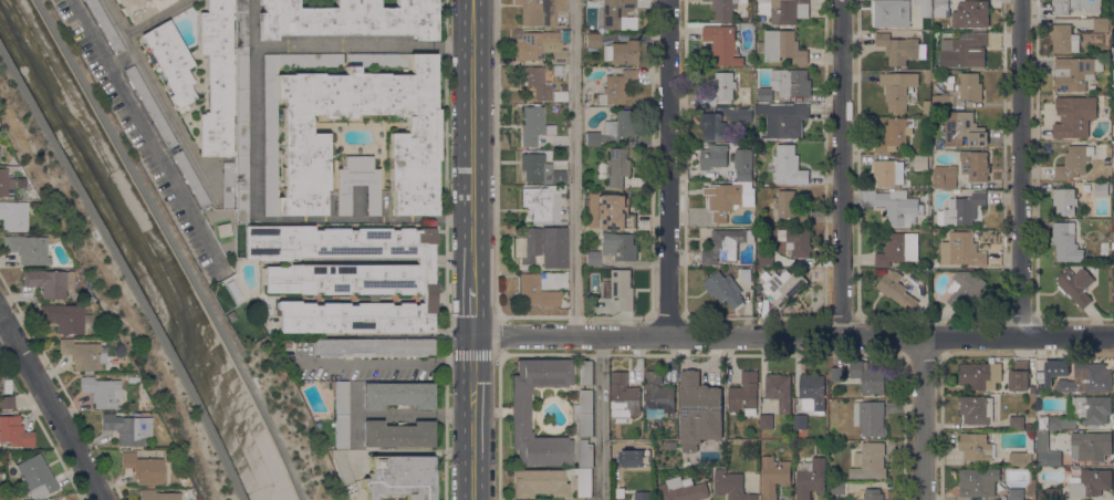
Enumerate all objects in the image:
building: (1074, 6)
building: (923, 7)
building: (140, 8)
building: (725, 8)
building: (940, 8)
building: (784, 10)
building: (542, 12)
building: (889, 13)
building: (970, 13)
building: (1113, 13)
building: (617, 14)
road: (156, 18)
building: (348, 19)
building: (241, 23)
building: (1101, 25)
building: (105, 27)
building: (1064, 39)
building: (592, 42)
building: (723, 44)
building: (781, 45)
road: (362, 46)
building: (538, 46)
building: (900, 49)
building: (965, 50)
building: (621, 53)
road: (119, 60)
building: (170, 62)
building: (556, 71)
building: (1075, 72)
building: (752, 74)
building: (927, 76)
building: (217, 79)
building: (791, 82)
building: (537, 83)
building: (970, 86)
building: (617, 87)
building: (897, 88)
building: (721, 90)
building: (1113, 90)
building: (766, 94)
building: (559, 96)
road: (157, 98)
building: (1108, 100)
building: (941, 101)
building: (150, 107)
building: (927, 107)
building: (745, 115)
building: (1077, 117)
building: (783, 119)
building: (928, 121)
building: (621, 125)
building: (533, 126)
building: (715, 127)
building: (962, 129)
road: (144, 133)
building: (895, 134)
building: (241, 135)
parking lot: (140, 138)
building: (592, 139)
building: (413, 147)
building: (714, 157)
road: (494, 158)
building: (920, 162)
building: (1074, 162)
building: (743, 164)
building: (975, 165)
building: (789, 166)
building: (617, 167)
road: (574, 168)
road: (668, 168)
road: (842, 168)
road: (1018, 168)
building: (538, 170)
building: (888, 173)
building: (945, 177)
building: (190, 179)
building: (4, 183)
building: (357, 184)
building: (228, 186)
building: (18, 196)
building: (1075, 198)
building: (730, 199)
building: (540, 204)
building: (894, 205)
building: (790, 207)
building: (961, 209)
building: (614, 212)
building: (13, 216)
road: (253, 219)
building: (559, 223)
building: (795, 241)
building: (1066, 242)
building: (618, 246)
building: (723, 246)
building: (1113, 246)
building: (543, 247)
road: (173, 248)
road: (445, 249)
road: (472, 249)
building: (898, 249)
building: (966, 249)
building: (27, 250)
building: (1113, 252)
building: (592, 258)
building: (766, 258)
building: (935, 263)
road: (124, 273)
building: (746, 275)
building: (346, 278)
building: (49, 282)
building: (585, 282)
building: (1076, 285)
building: (784, 287)
park: (112, 288)
building: (894, 288)
building: (621, 289)
building: (964, 289)
building: (534, 291)
building: (723, 292)
road: (256, 302)
building: (1113, 305)
park: (237, 315)
building: (65, 319)
building: (110, 334)
road: (496, 335)
road: (6, 336)
road: (793, 337)
building: (373, 347)
building: (81, 355)
road: (388, 363)
building: (585, 373)
building: (836, 374)
building: (980, 375)
building: (1019, 375)
building: (868, 376)
building: (133, 377)
building: (1047, 377)
building: (1087, 378)
building: (813, 388)
building: (779, 390)
building: (101, 392)
building: (658, 392)
building: (743, 394)
building: (397, 395)
building: (341, 397)
building: (624, 397)
building: (7, 403)
road: (51, 407)
building: (1089, 408)
building: (974, 409)
building: (520, 413)
building: (691, 413)
building: (584, 414)
road: (602, 418)
building: (872, 418)
road: (922, 418)
building: (801, 420)
park: (285, 421)
building: (767, 421)
building: (1049, 421)
building: (1017, 423)
building: (1029, 425)
road: (498, 427)
building: (127, 428)
building: (14, 433)
building: (341, 433)
building: (397, 435)
building: (1053, 440)
building: (1094, 446)
building: (976, 448)
building: (1023, 451)
building: (585, 454)
building: (634, 458)
building: (1054, 458)
building: (870, 461)
building: (342, 467)
building: (144, 469)
building: (774, 476)
building: (35, 477)
building: (399, 477)
building: (810, 478)
building: (184, 480)
building: (583, 481)
building: (979, 481)
building: (1090, 482)
building: (538, 483)
building: (731, 486)
building: (837, 487)
building: (683, 489)
building: (620, 492)
building: (1012, 493)
building: (1053, 493)
building: (872, 494)
building: (157, 496)
building: (643, 496)

